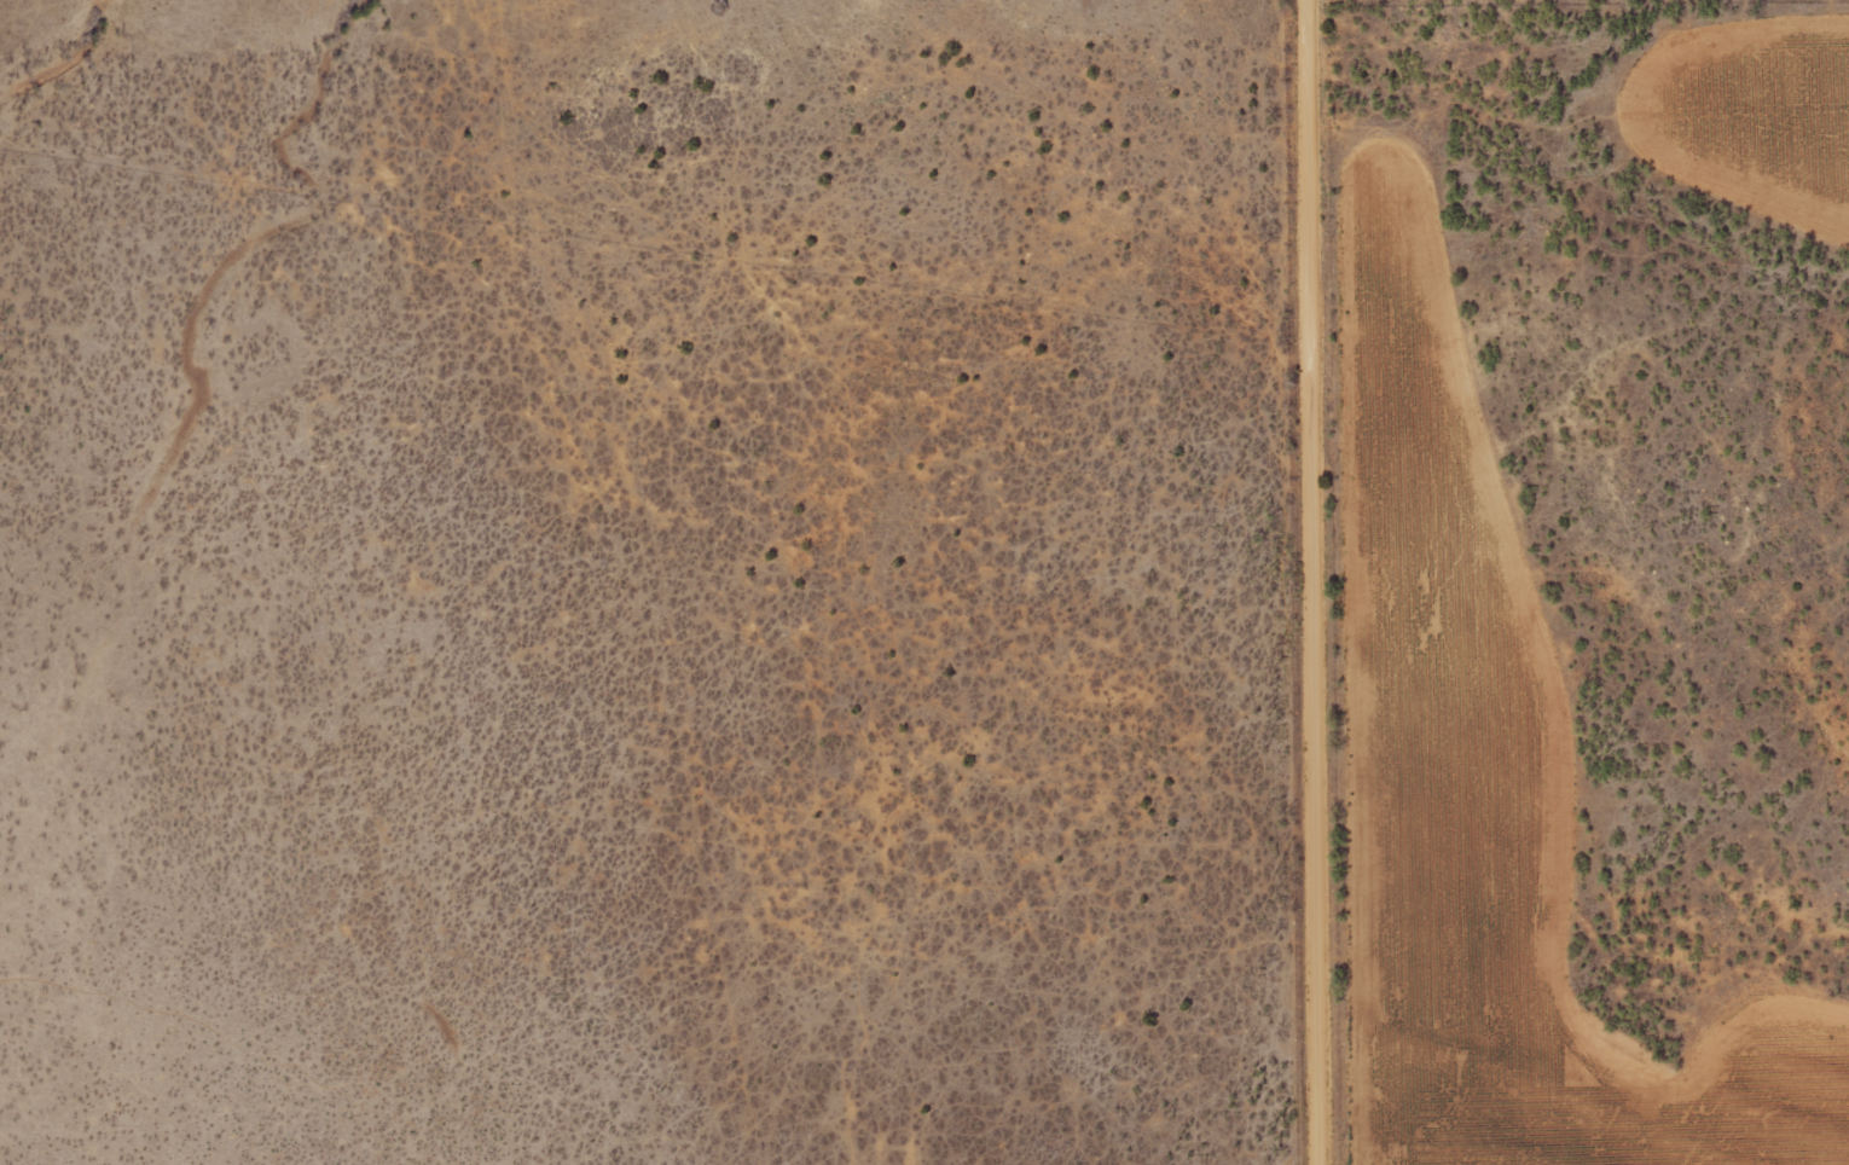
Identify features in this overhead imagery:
road: (1314, 582)

